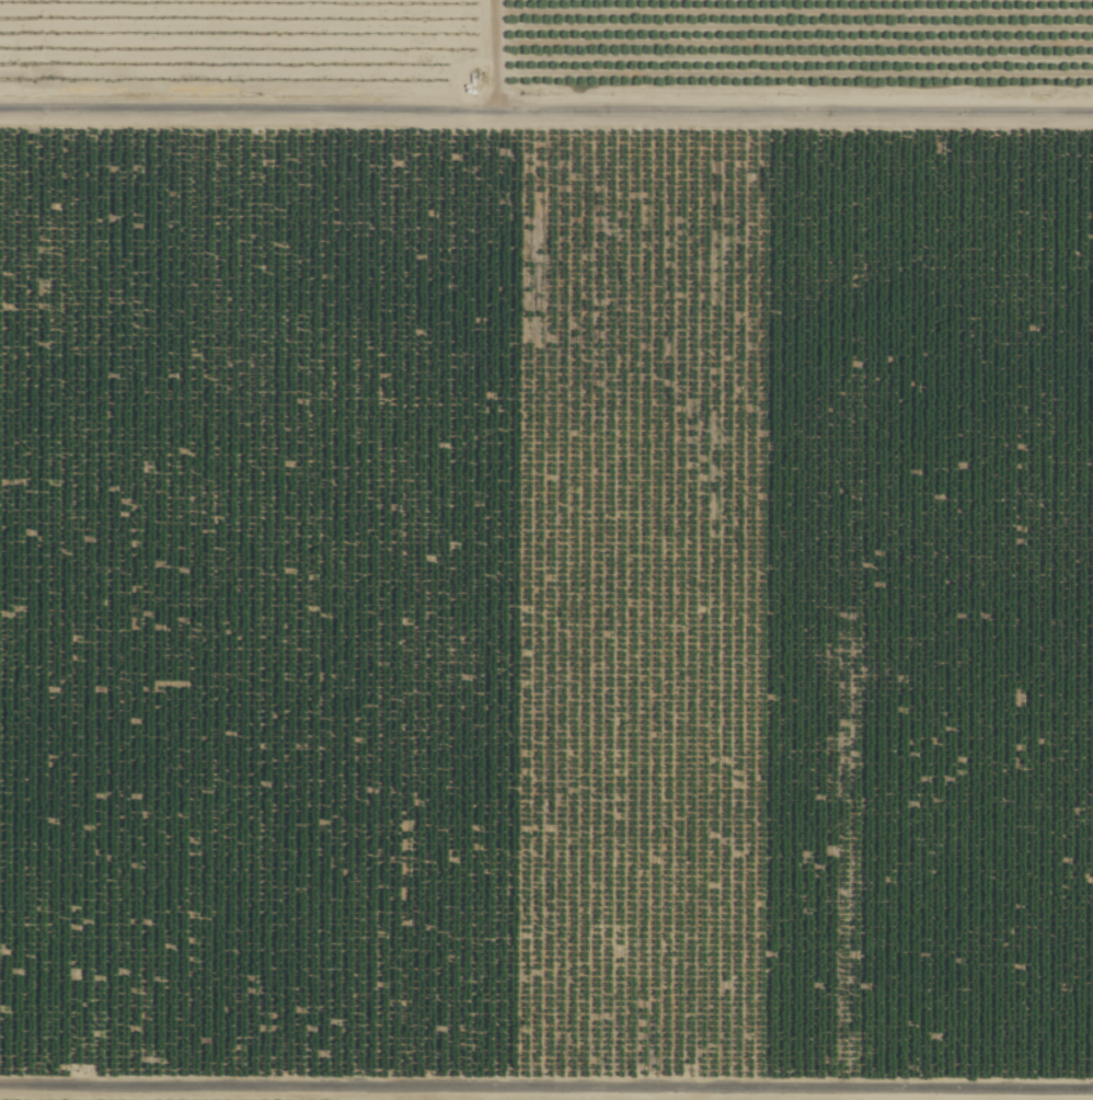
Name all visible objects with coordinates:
road: (546, 128)
crop: (546, 550)

